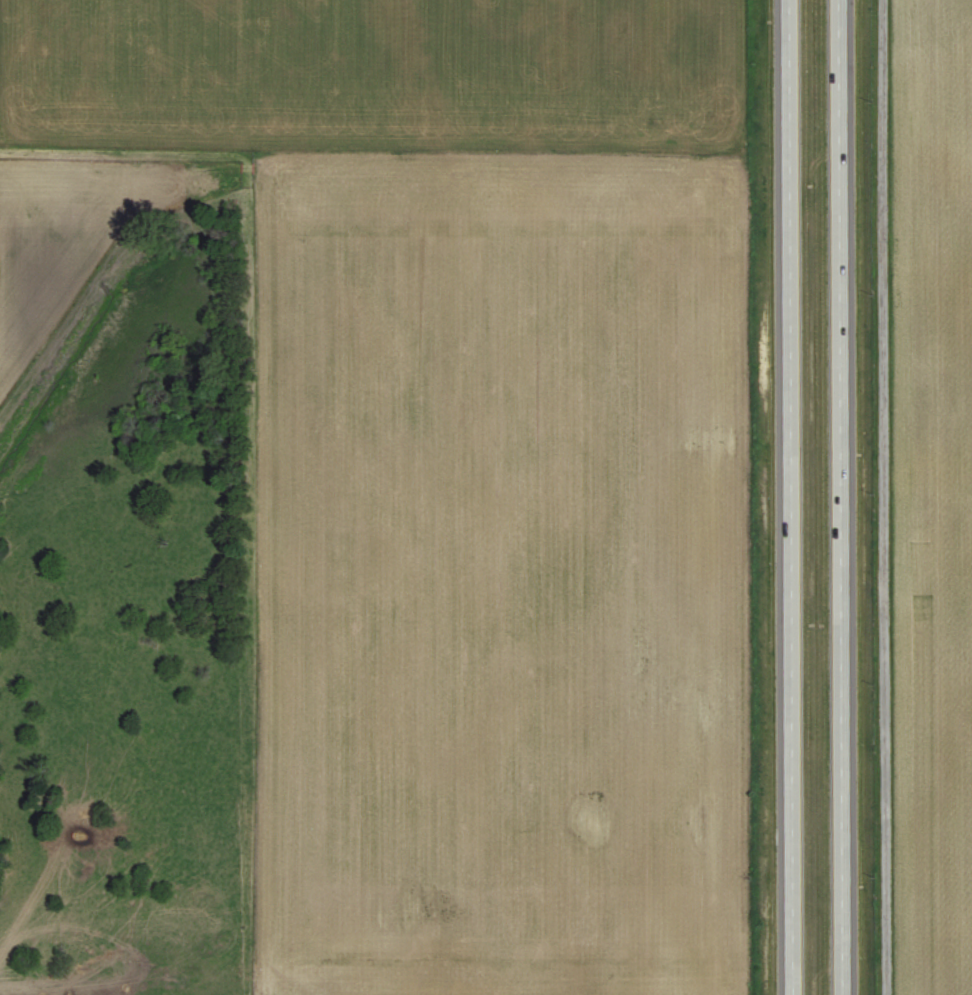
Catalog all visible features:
road: (787, 497)
road: (843, 497)
road: (884, 497)

